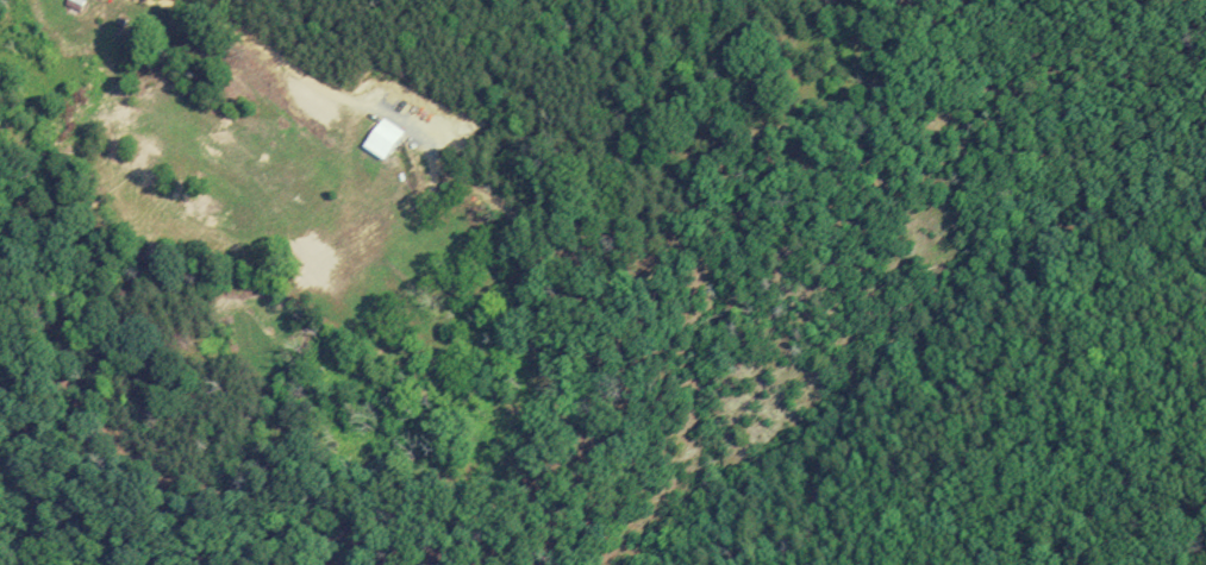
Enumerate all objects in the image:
road: (260, 45)
building: (383, 140)

